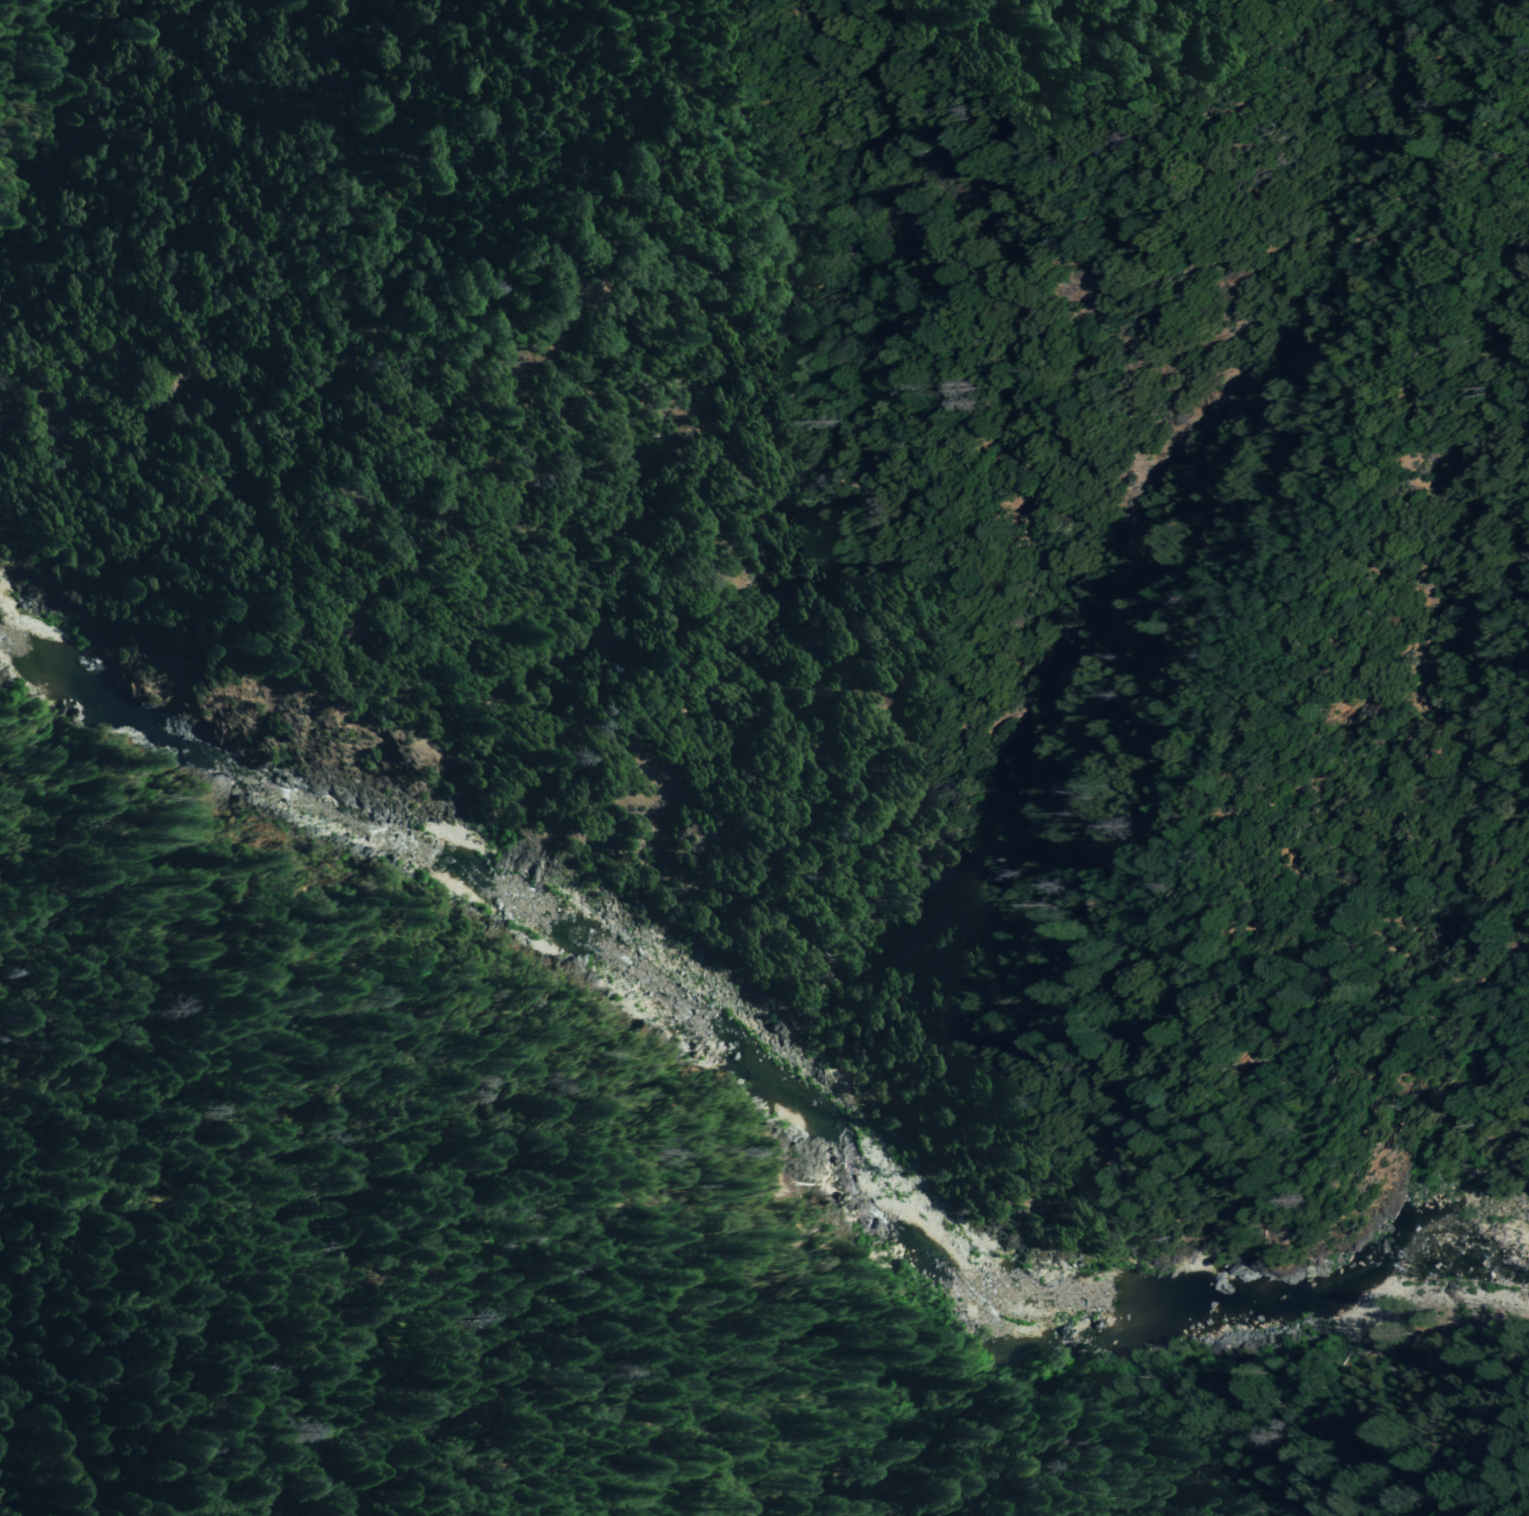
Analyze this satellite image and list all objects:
park: (713, 278)
park: (36, 289)
park: (283, 339)
park: (659, 654)
river: (214, 751)
river: (469, 884)
road: (820, 897)
river: (545, 937)
river: (689, 1029)
river: (760, 1084)
river: (841, 1183)
river: (1473, 1271)
river: (1520, 1277)
river: (1297, 1301)
river: (1030, 1309)
park: (189, 1366)

